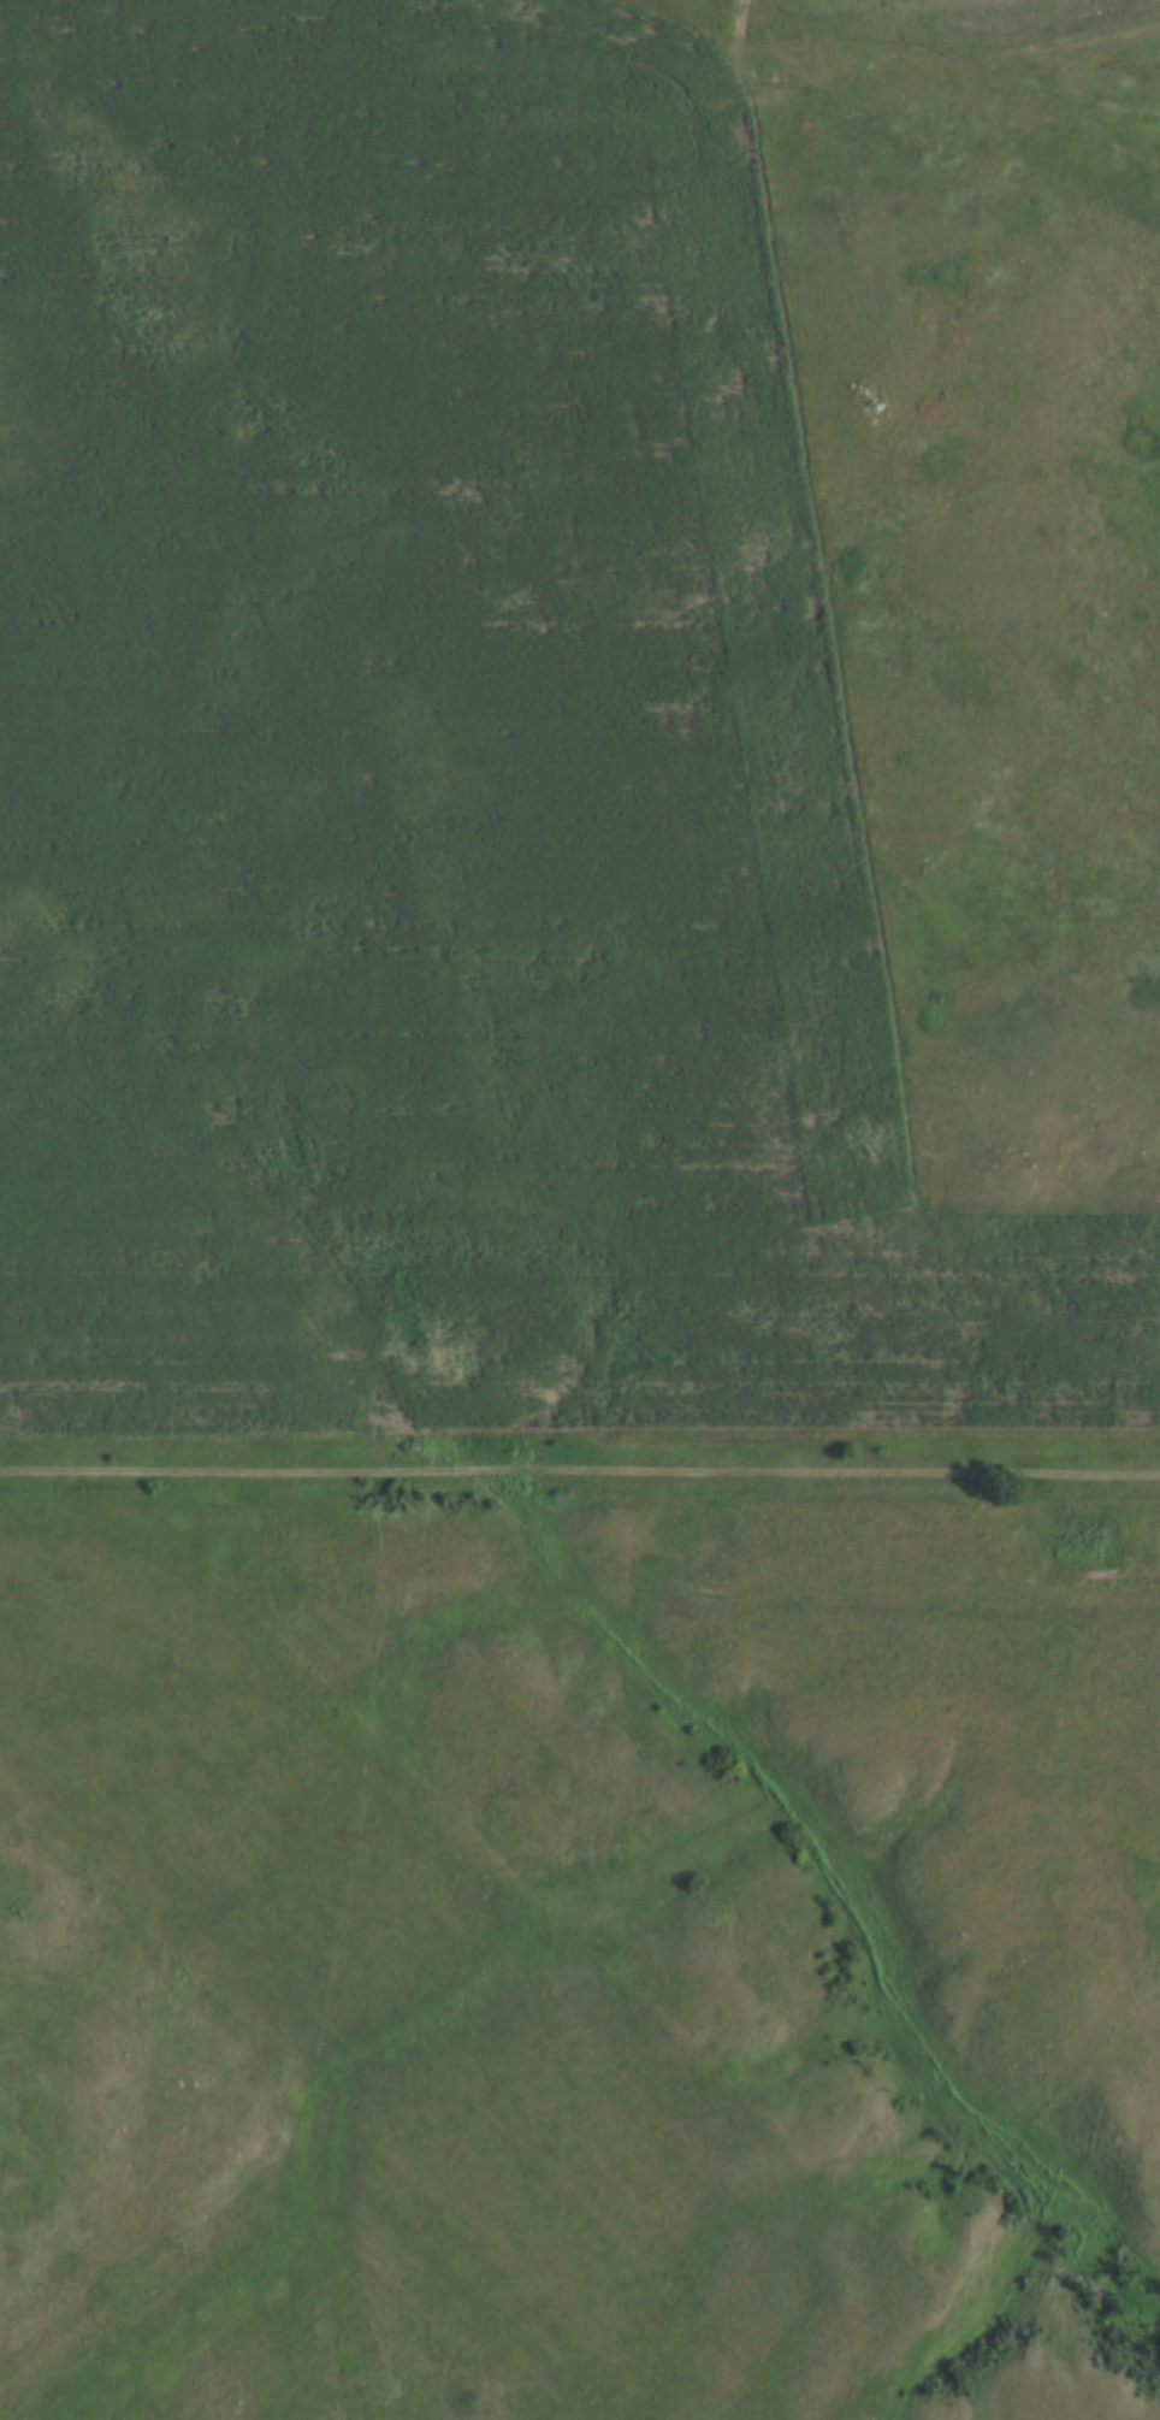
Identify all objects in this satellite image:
road: (580, 1469)

